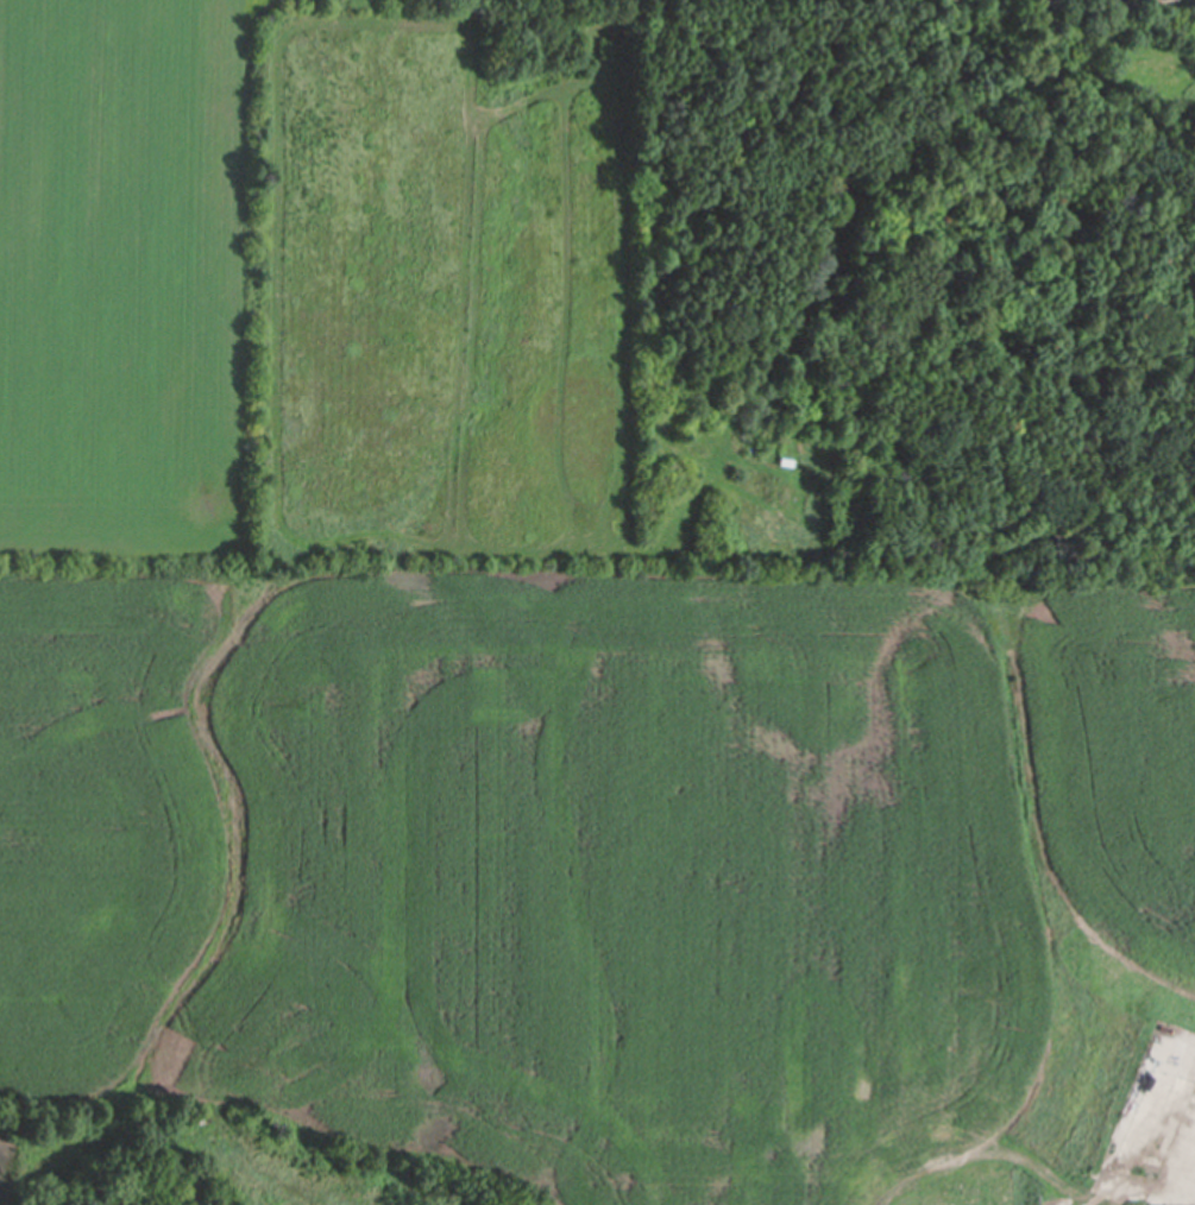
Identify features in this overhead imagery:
building: (793, 485)
road: (1138, 1181)

